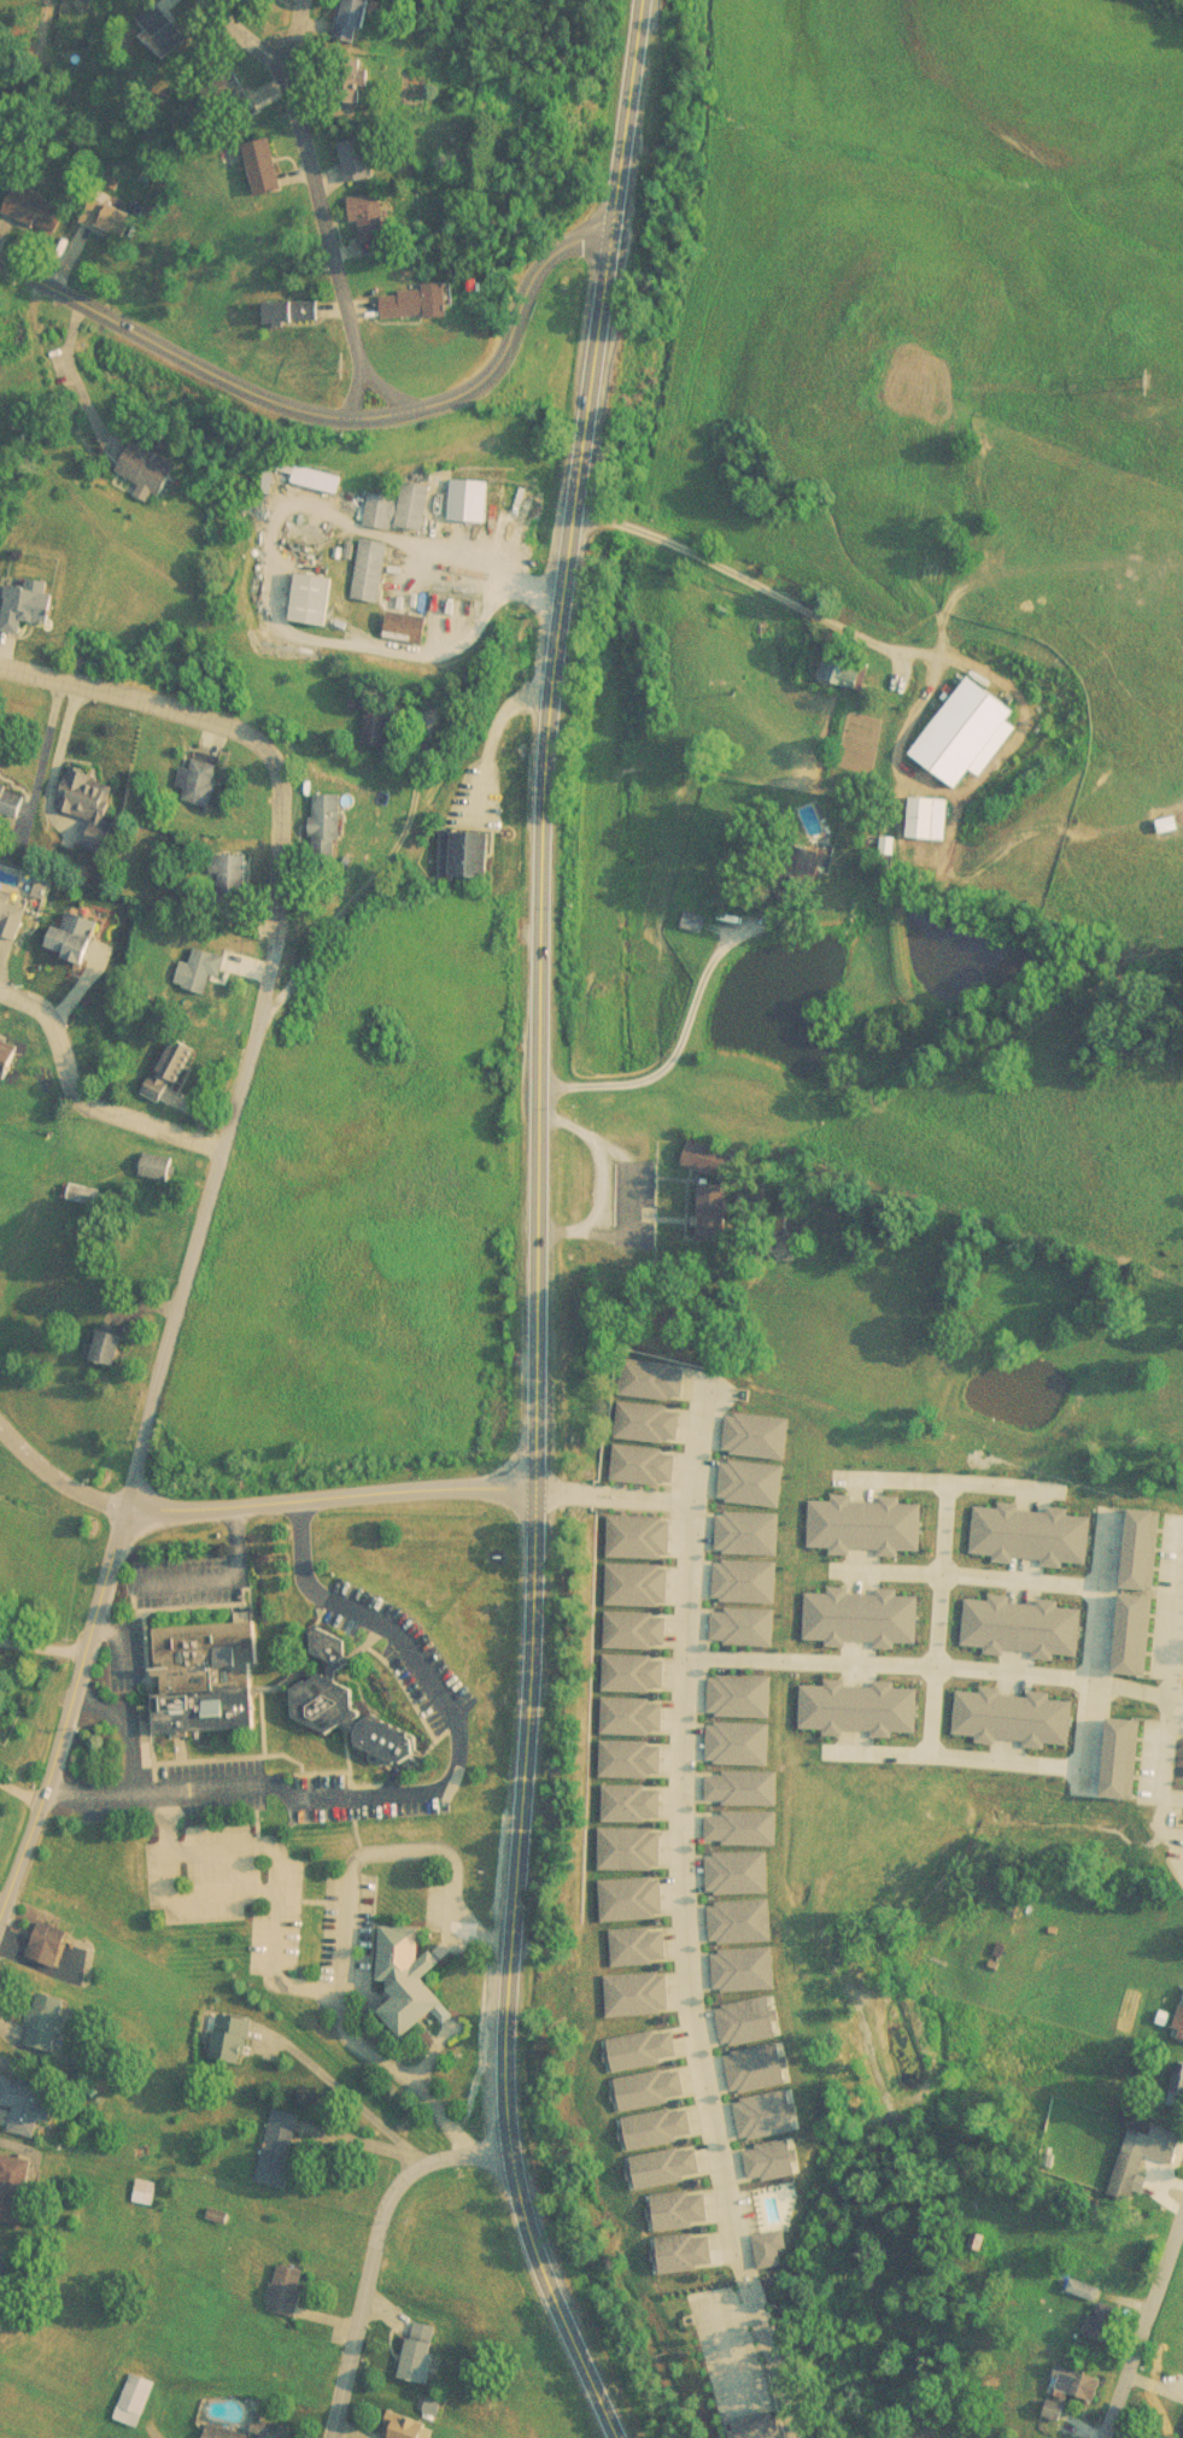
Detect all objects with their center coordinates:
building: (342, 13)
building: (159, 14)
road: (289, 28)
building: (352, 142)
building: (259, 151)
road: (308, 166)
building: (103, 200)
building: (363, 201)
building: (414, 286)
building: (289, 295)
road: (382, 377)
road: (350, 379)
road: (327, 399)
building: (141, 450)
building: (467, 473)
building: (399, 491)
building: (367, 552)
building: (311, 581)
building: (22, 587)
building: (400, 609)
road: (943, 655)
road: (159, 691)
building: (373, 701)
road: (545, 739)
building: (194, 767)
building: (6, 790)
building: (86, 791)
building: (322, 803)
building: (226, 861)
building: (8, 904)
building: (69, 922)
building: (195, 955)
building: (4, 1038)
road: (677, 1047)
building: (163, 1057)
road: (78, 1090)
road: (213, 1144)
building: (148, 1149)
building: (71, 1177)
road: (597, 1180)
building: (99, 1330)
road: (59, 1469)
road: (954, 1485)
road: (338, 1489)
road: (620, 1493)
building: (868, 1525)
building: (1037, 1530)
road: (544, 1532)
building: (1144, 1551)
road: (222, 1578)
road: (971, 1580)
building: (865, 1619)
road: (943, 1623)
building: (1027, 1629)
building: (1138, 1639)
road: (943, 1671)
road: (1169, 1672)
building: (863, 1712)
building: (1019, 1721)
road: (70, 1722)
road: (127, 1731)
building: (1128, 1764)
road: (1087, 1766)
road: (24, 1792)
road: (432, 1793)
road: (683, 1912)
road: (504, 2017)
road: (371, 2245)
road: (1142, 2333)

